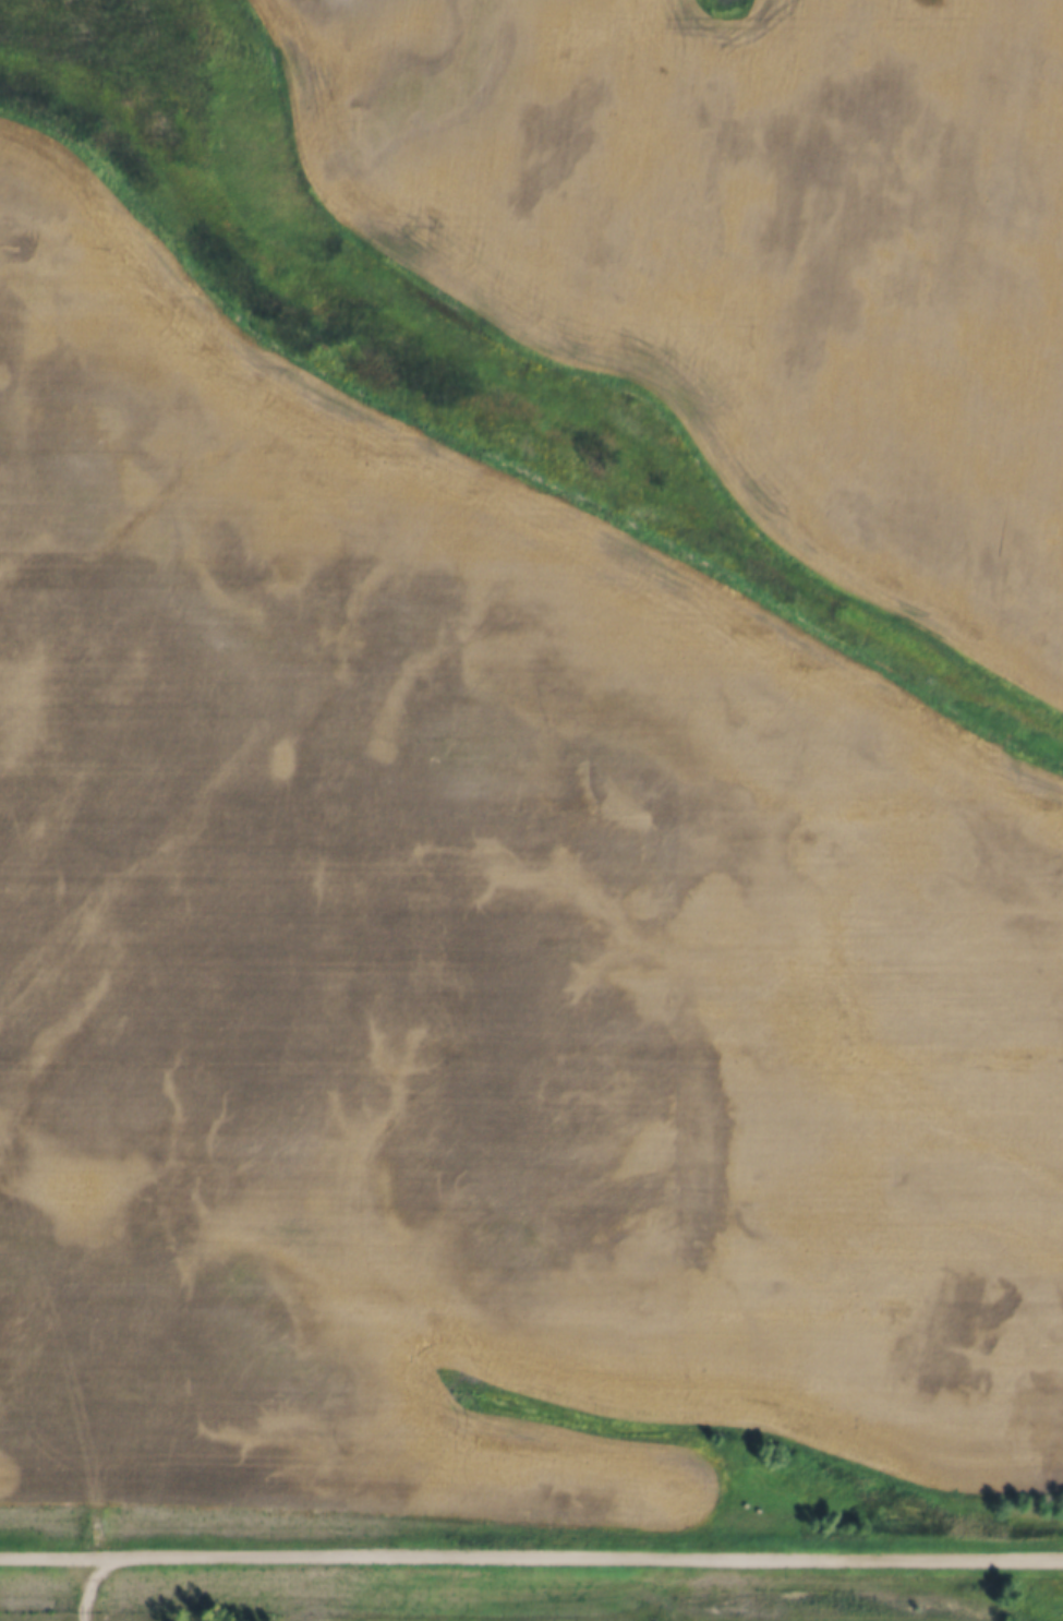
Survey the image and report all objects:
road: (531, 1556)
road: (92, 1584)

